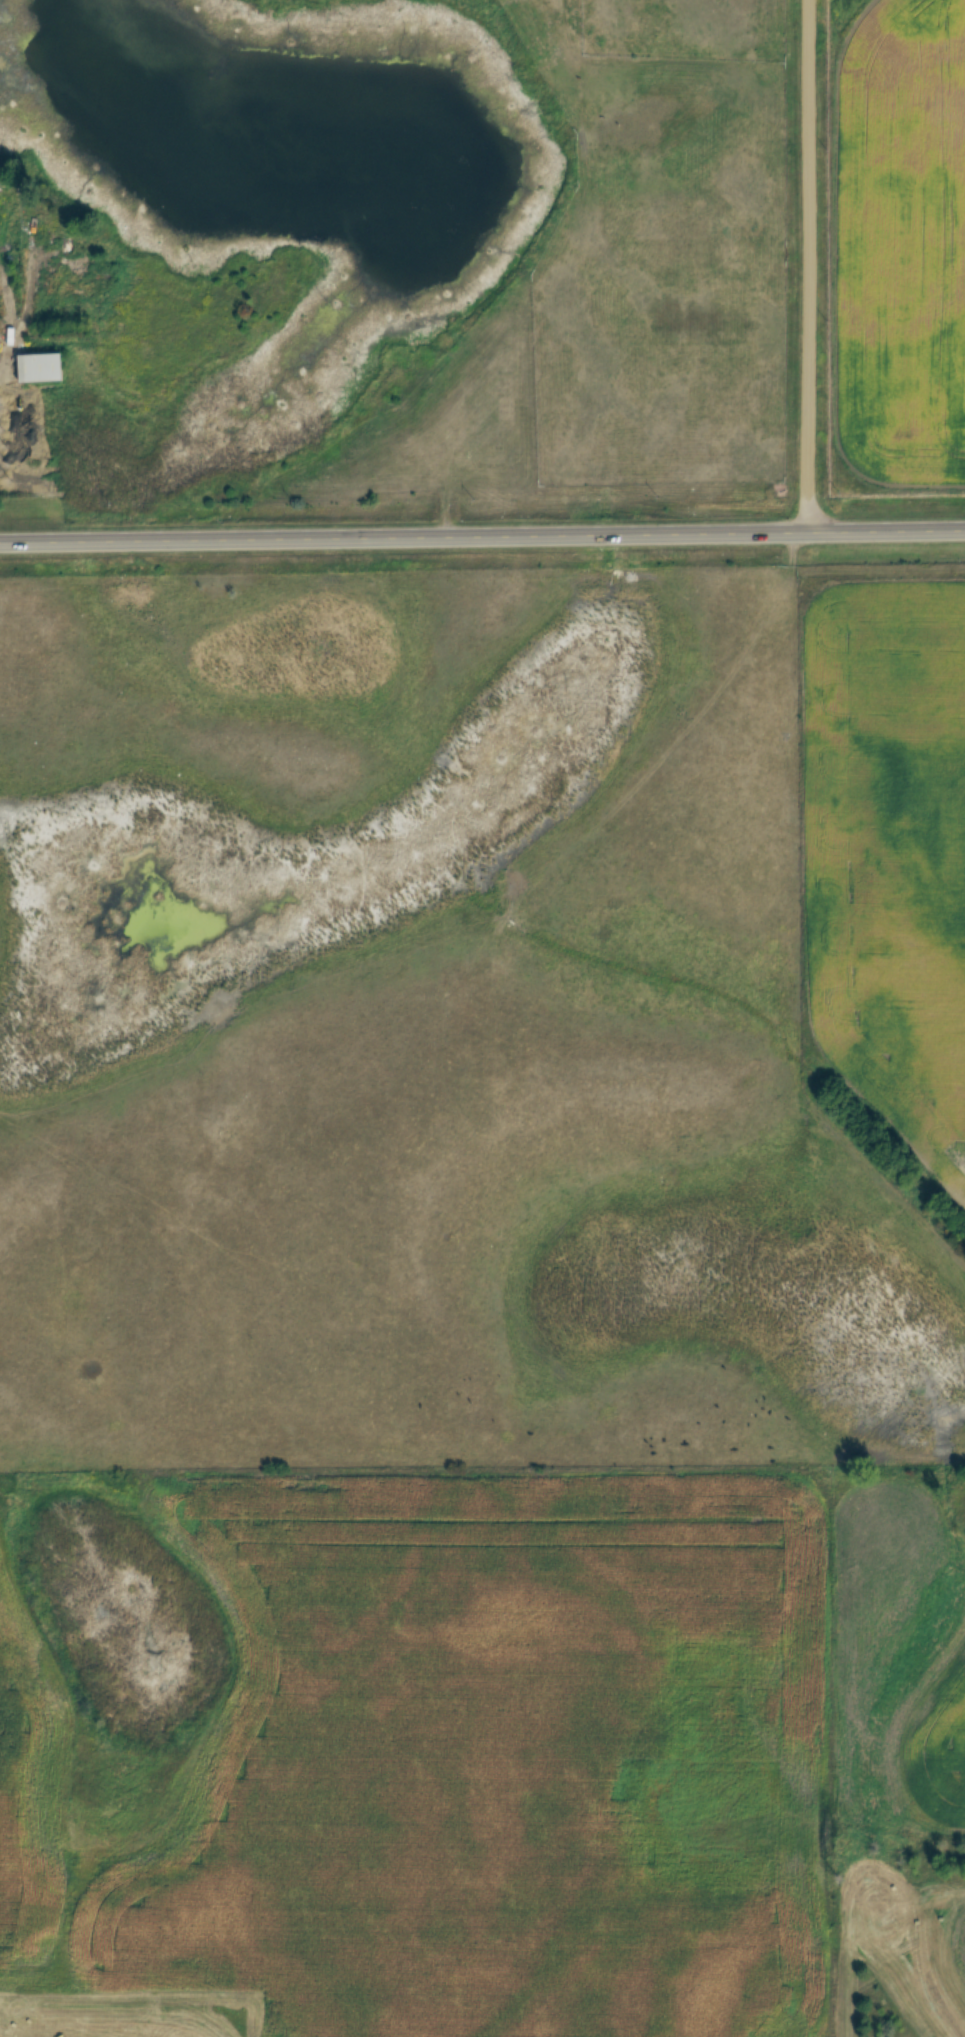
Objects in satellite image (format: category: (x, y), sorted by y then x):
road: (820, 267)
building: (41, 368)
road: (482, 538)
crop: (890, 862)
crop: (916, 1667)
crop: (419, 1757)
crop: (931, 1971)

